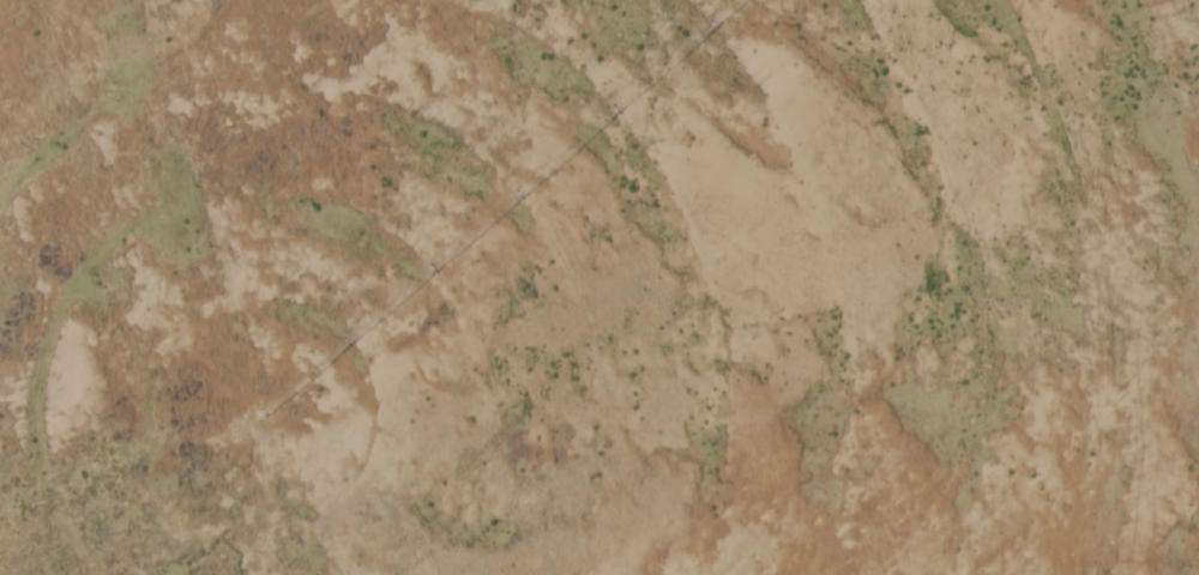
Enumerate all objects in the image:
crop: (598, 287)

